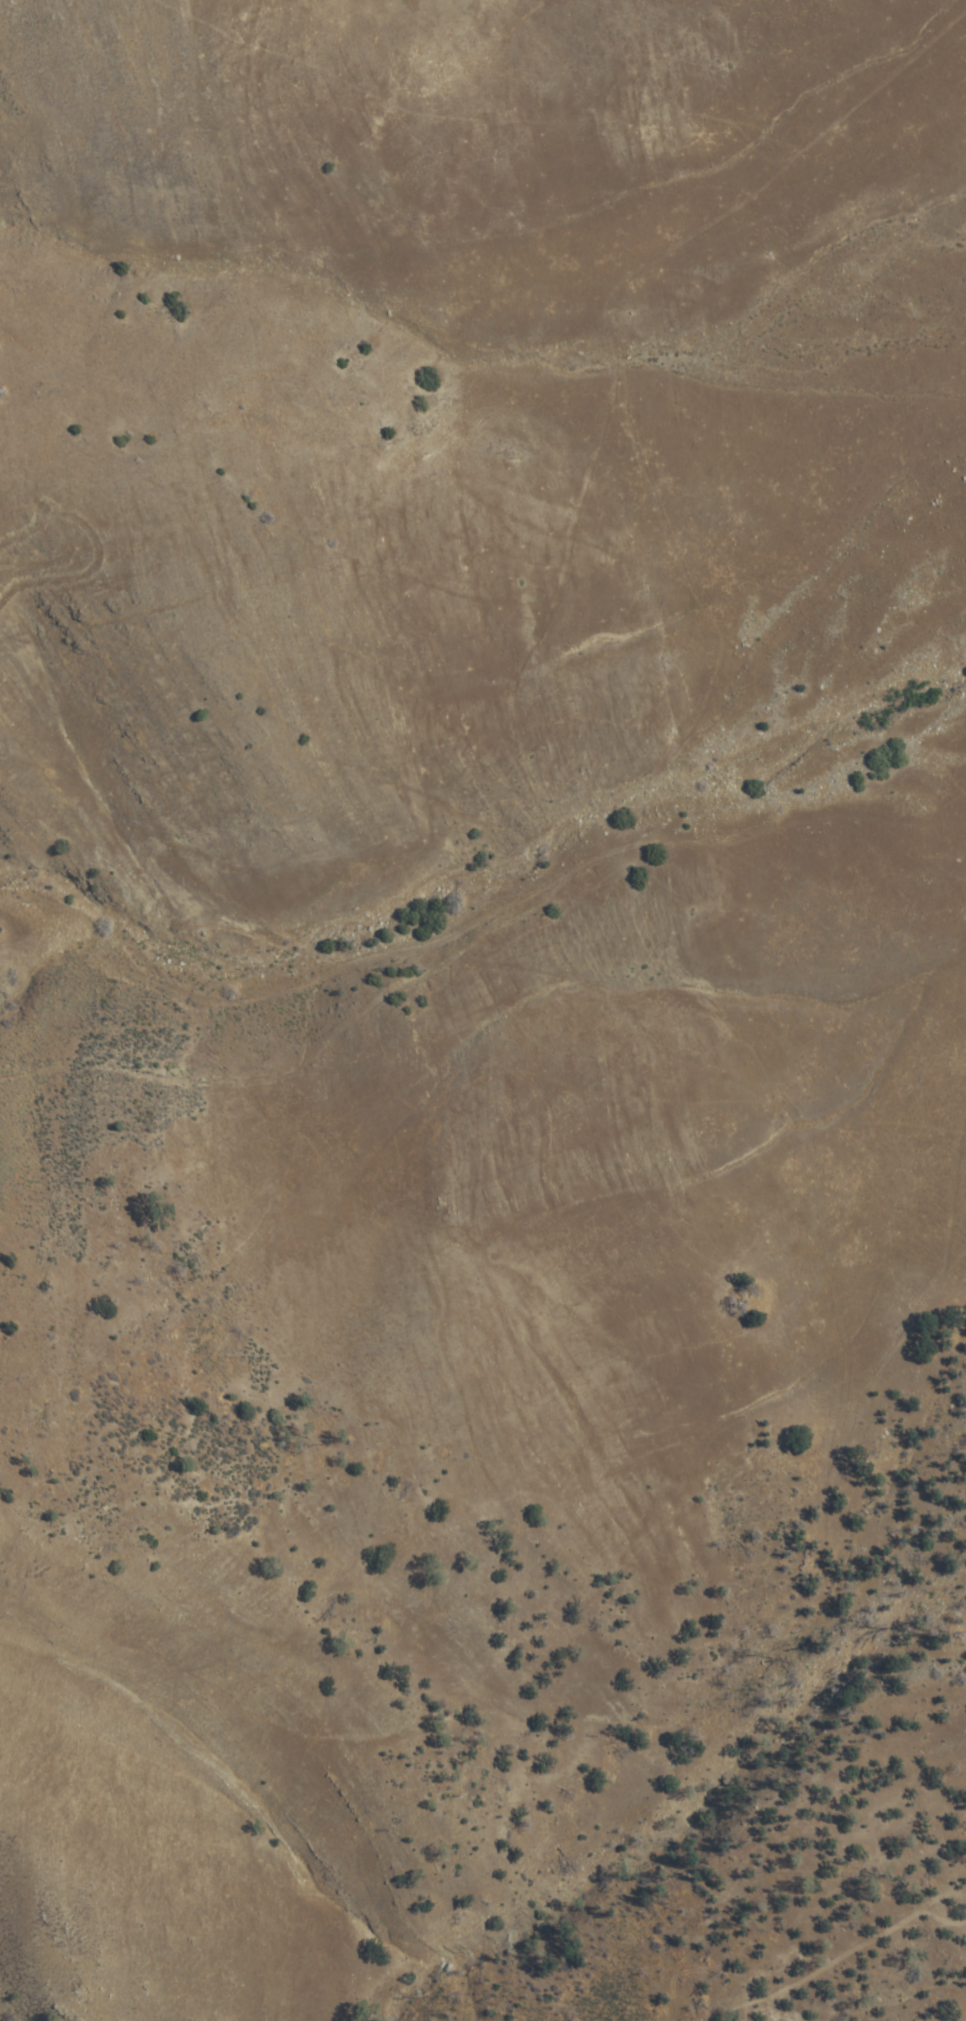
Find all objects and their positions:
road: (520, 909)
road: (808, 1462)

